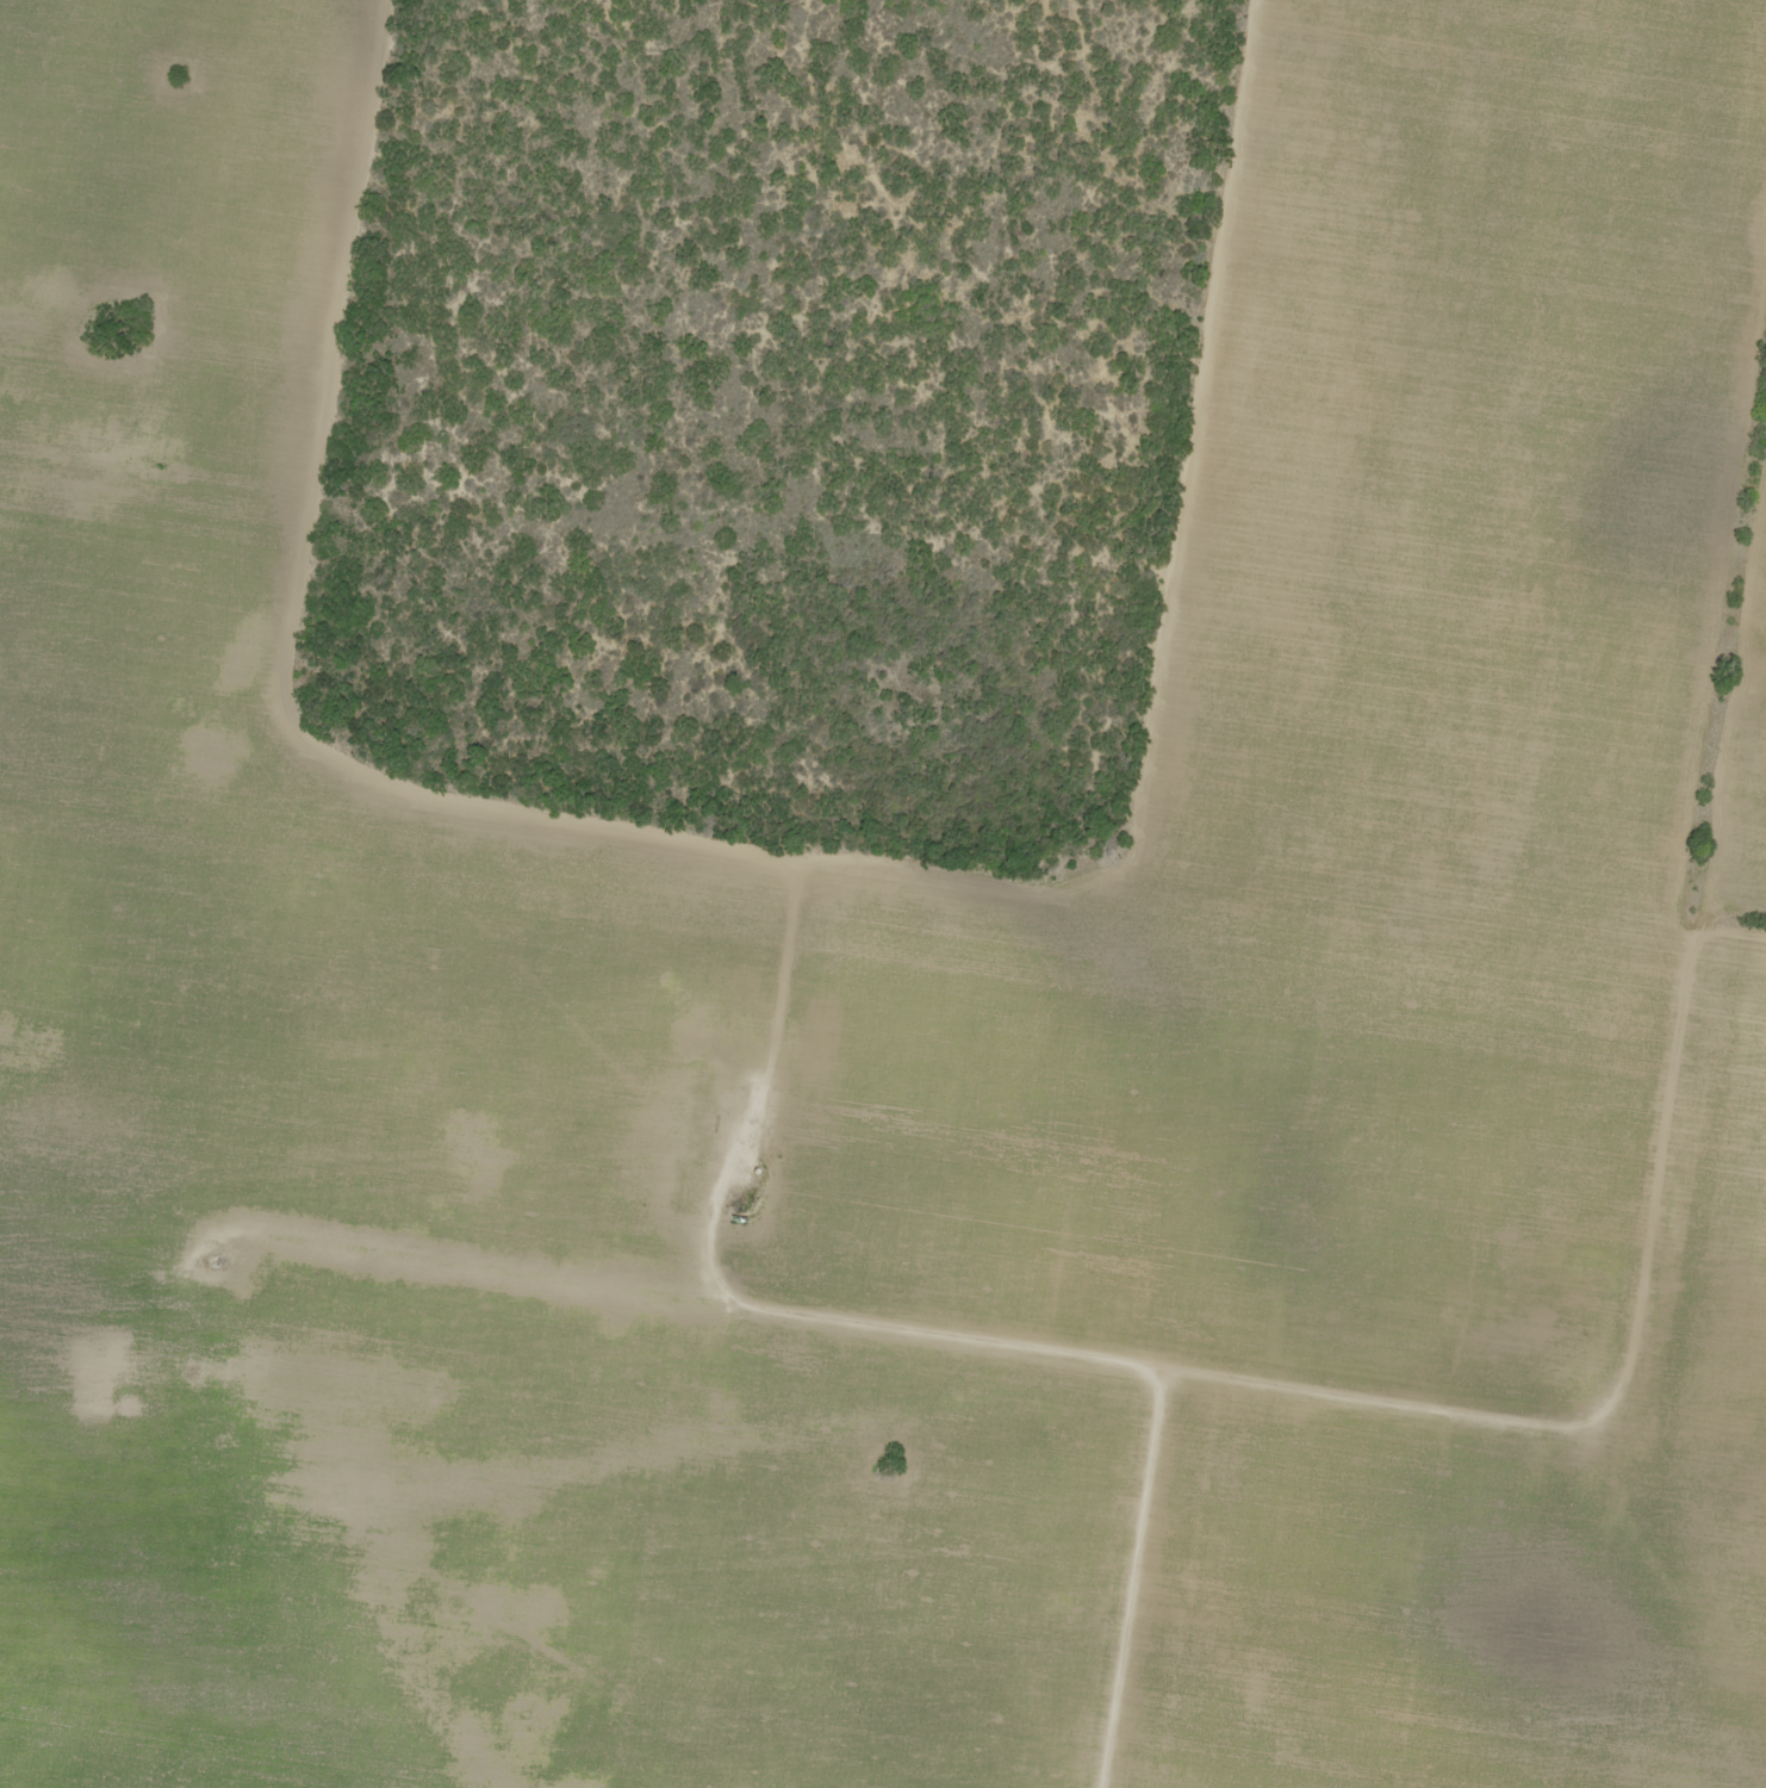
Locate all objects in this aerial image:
road: (92, 132)
road: (1021, 889)
road: (896, 1330)
road: (947, 1434)
road: (1692, 1598)

